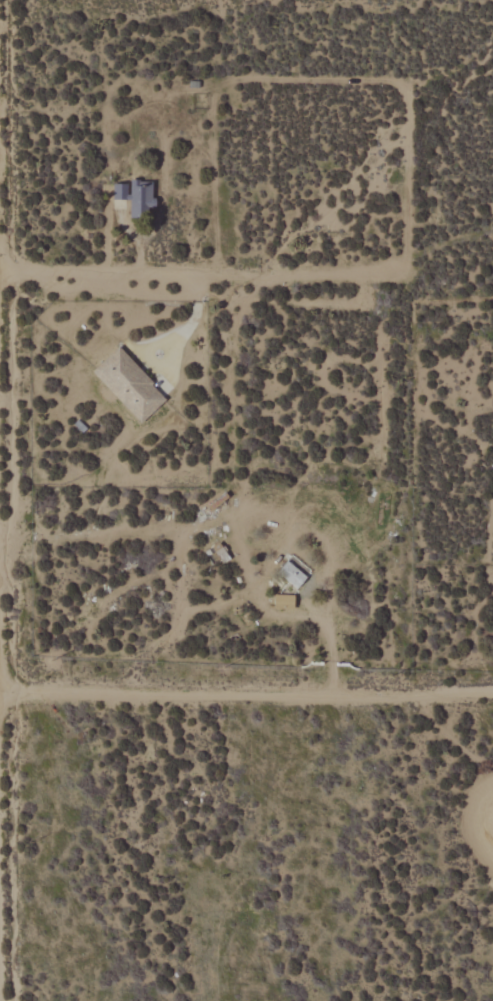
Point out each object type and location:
building: (137, 197)
road: (134, 239)
road: (214, 279)
road: (183, 322)
building: (129, 385)
building: (293, 575)
road: (1, 690)
road: (247, 691)
road: (2, 777)

